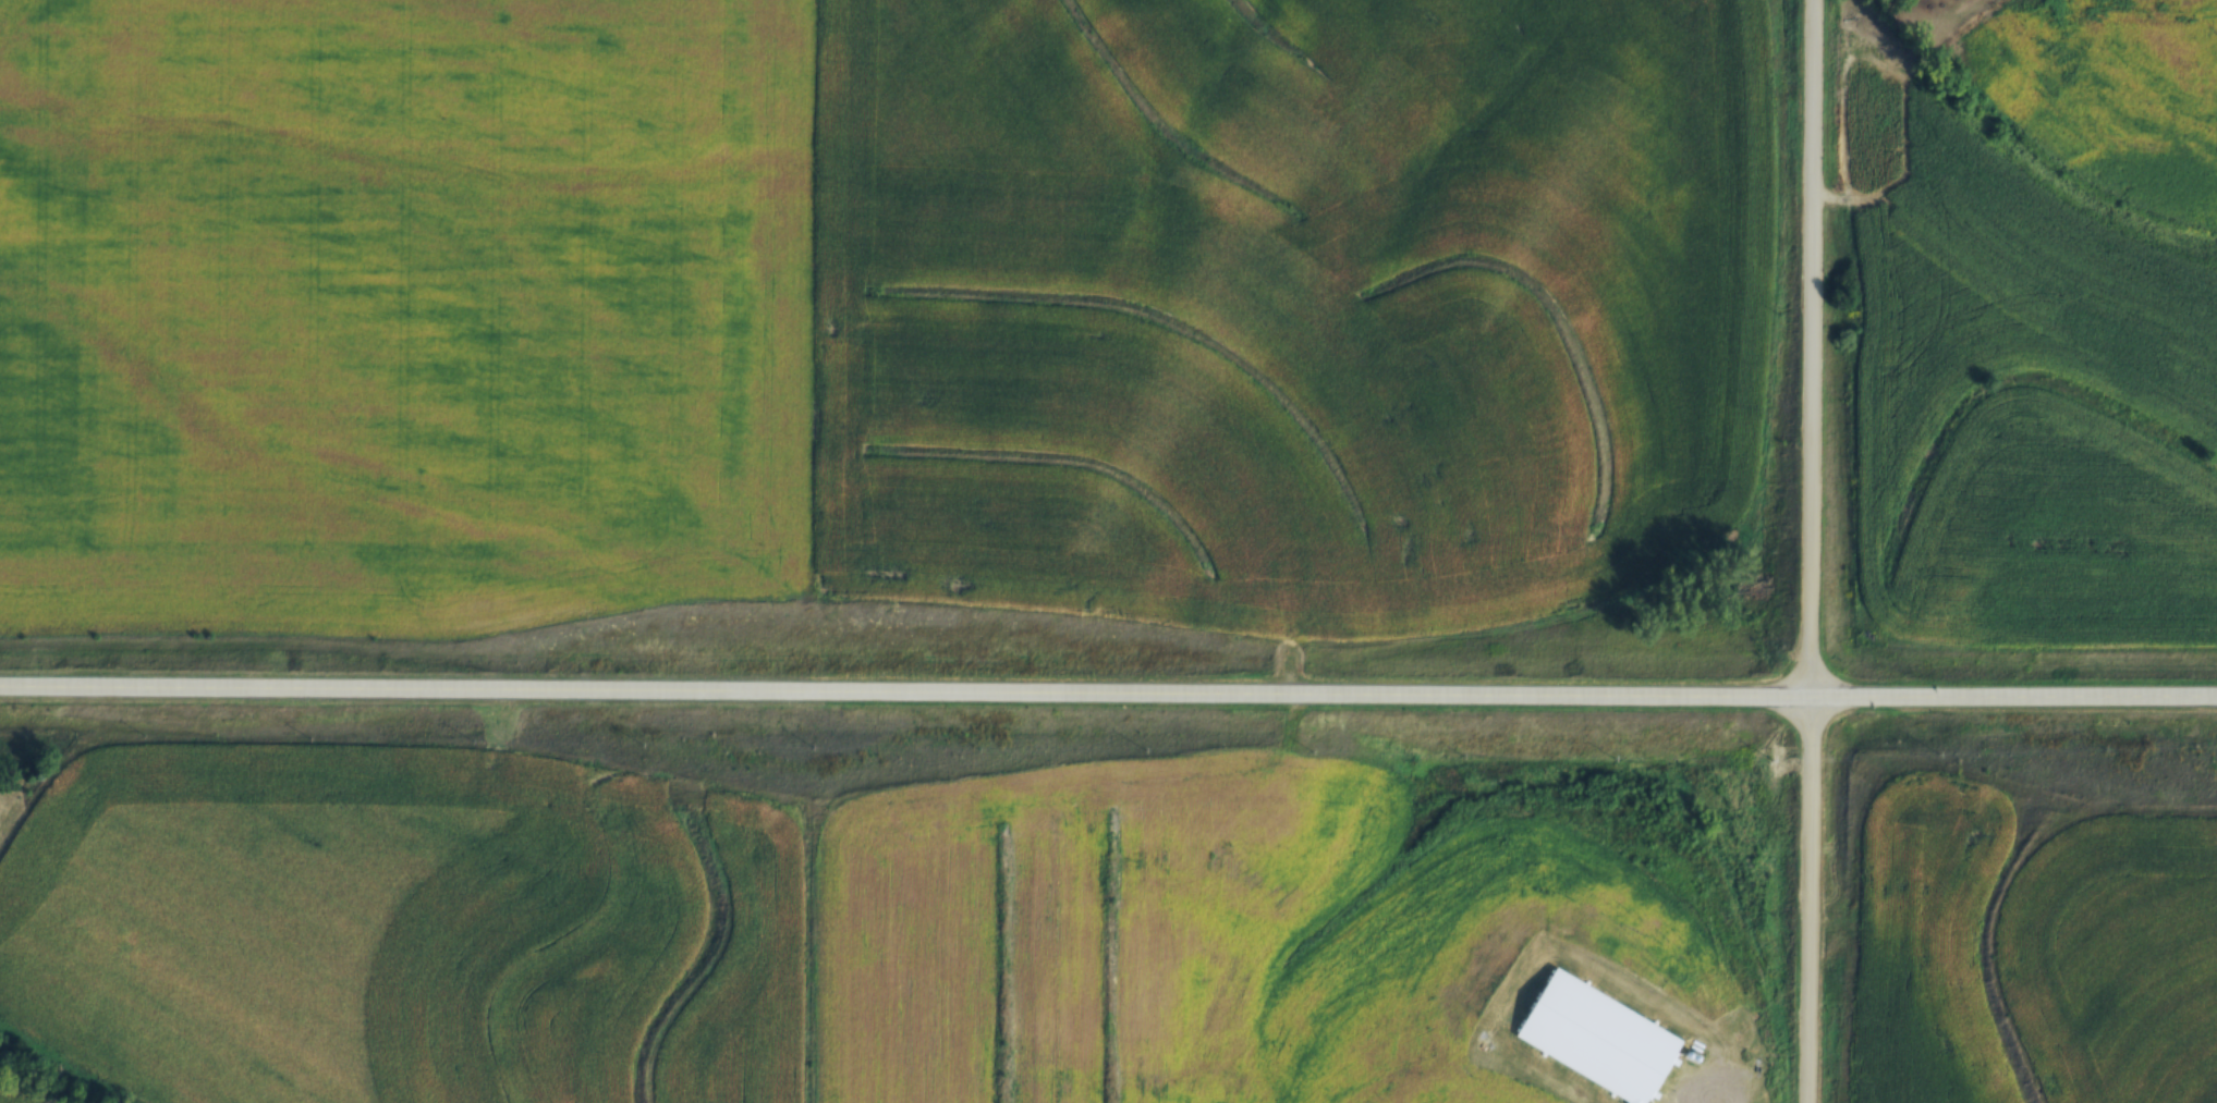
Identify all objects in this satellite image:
road: (1814, 551)
road: (1108, 694)

